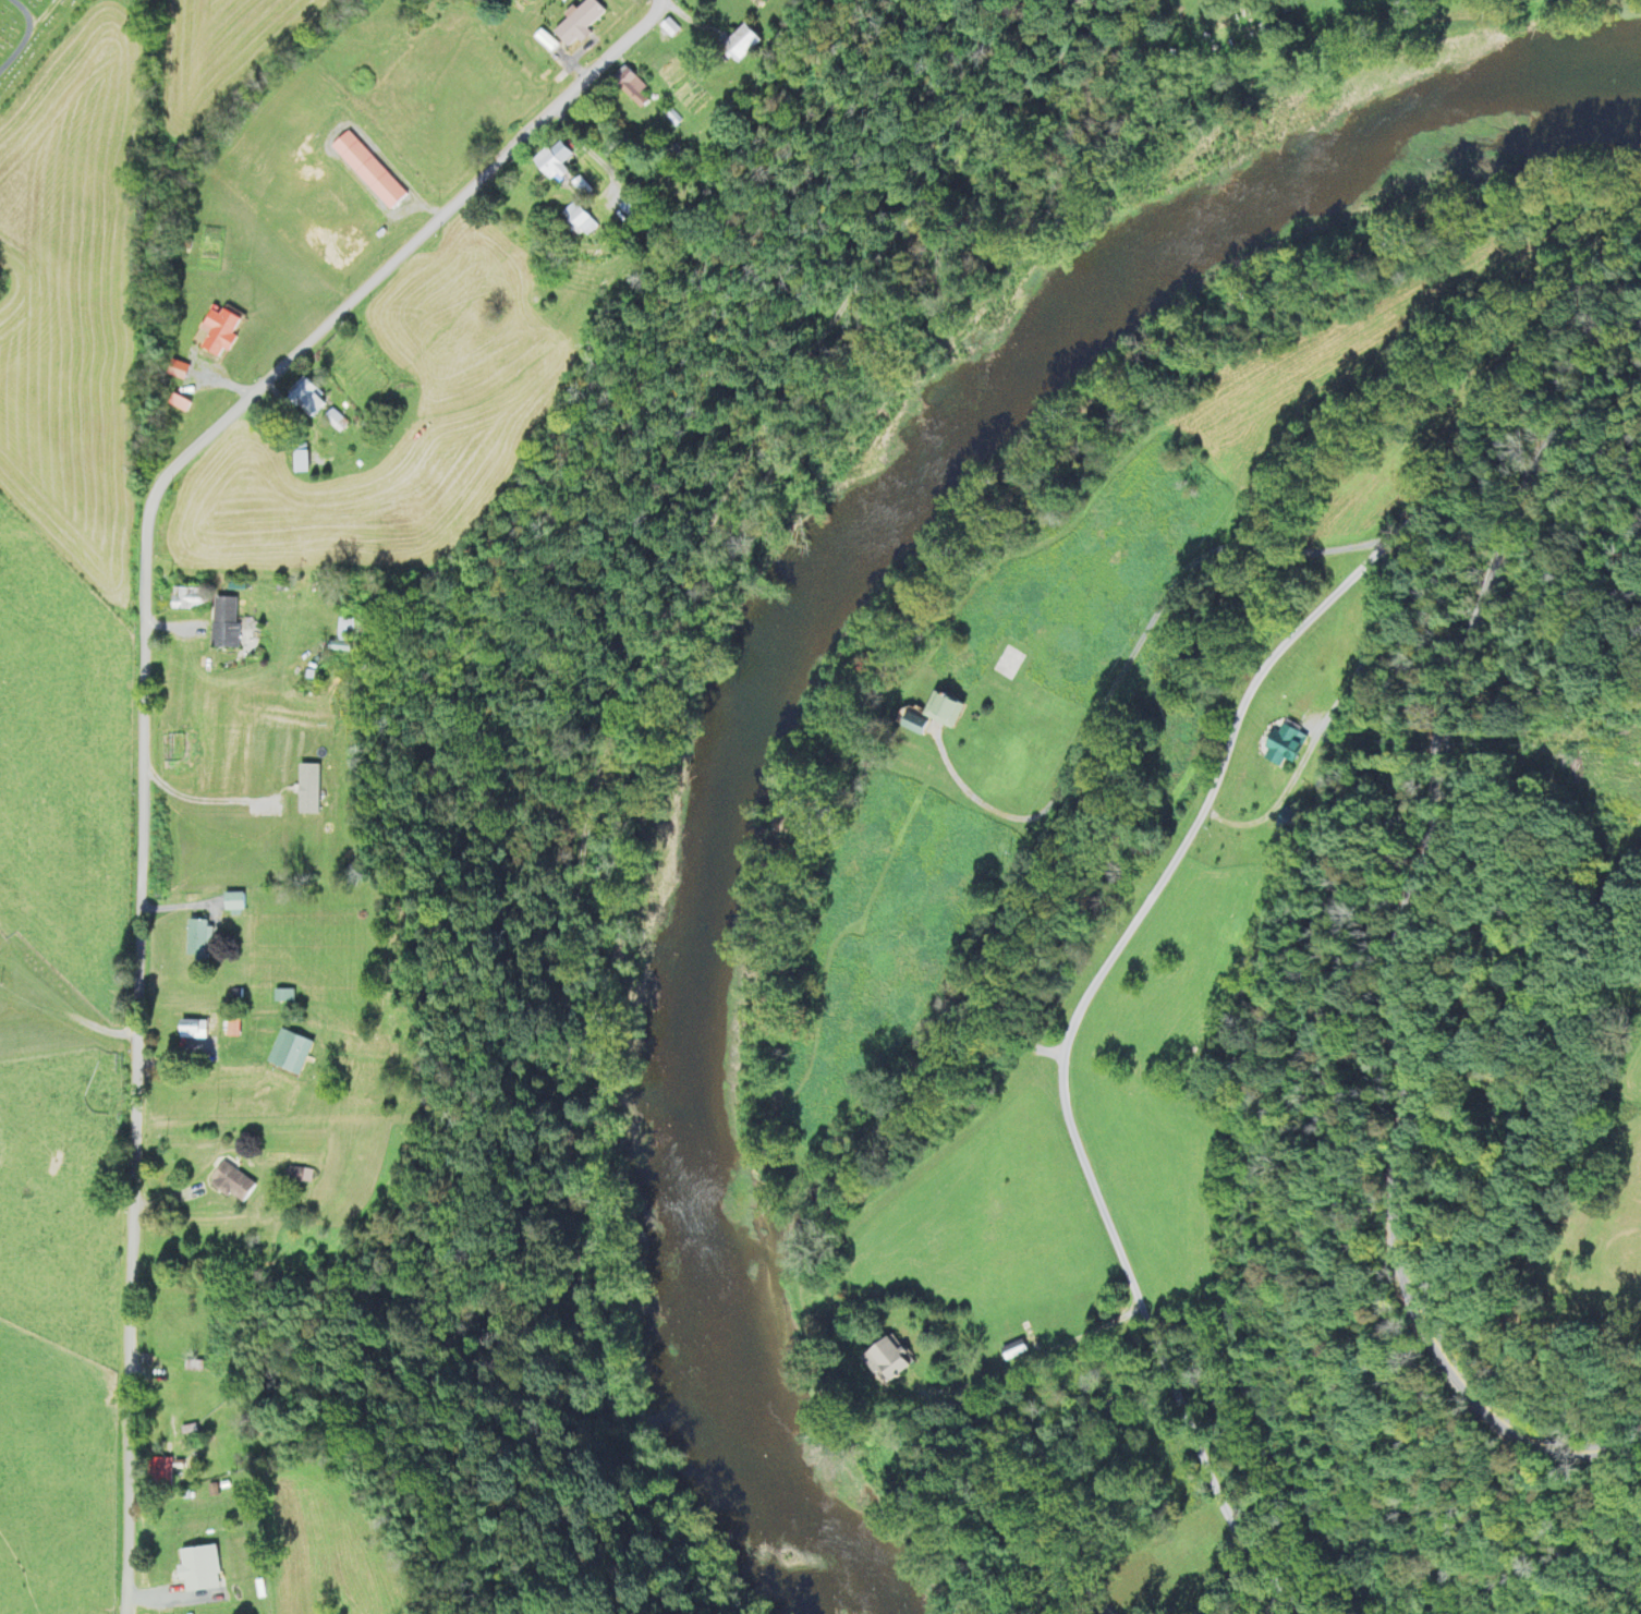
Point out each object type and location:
building: (1229, 0)
road: (23, 11)
building: (439, 15)
building: (564, 24)
road: (26, 33)
park: (27, 36)
building: (712, 53)
building: (610, 96)
building: (536, 167)
building: (363, 171)
building: (609, 220)
road: (397, 245)
building: (215, 333)
building: (300, 399)
building: (175, 402)
building: (327, 418)
building: (175, 433)
building: (291, 461)
building: (220, 629)
building: (332, 629)
river: (799, 633)
building: (940, 709)
road: (611, 739)
building: (1281, 744)
building: (231, 901)
road: (1145, 907)
road: (1413, 941)
building: (195, 942)
building: (197, 1028)
road: (129, 1053)
building: (292, 1175)
building: (230, 1184)
building: (883, 1361)
building: (161, 1472)
building: (193, 1563)

